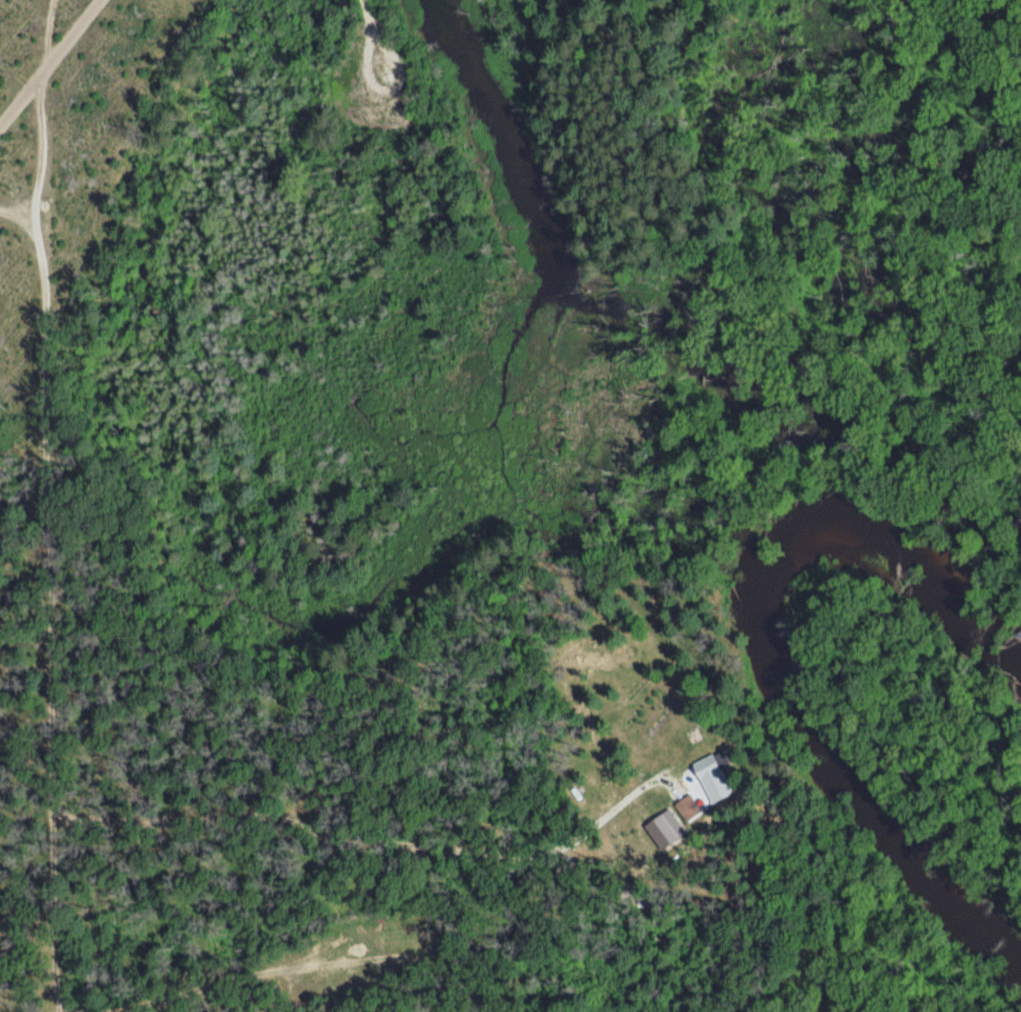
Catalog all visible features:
road: (368, 3)
road: (46, 64)
road: (24, 208)
road: (45, 536)
river: (766, 664)
building: (709, 763)
road: (261, 997)

